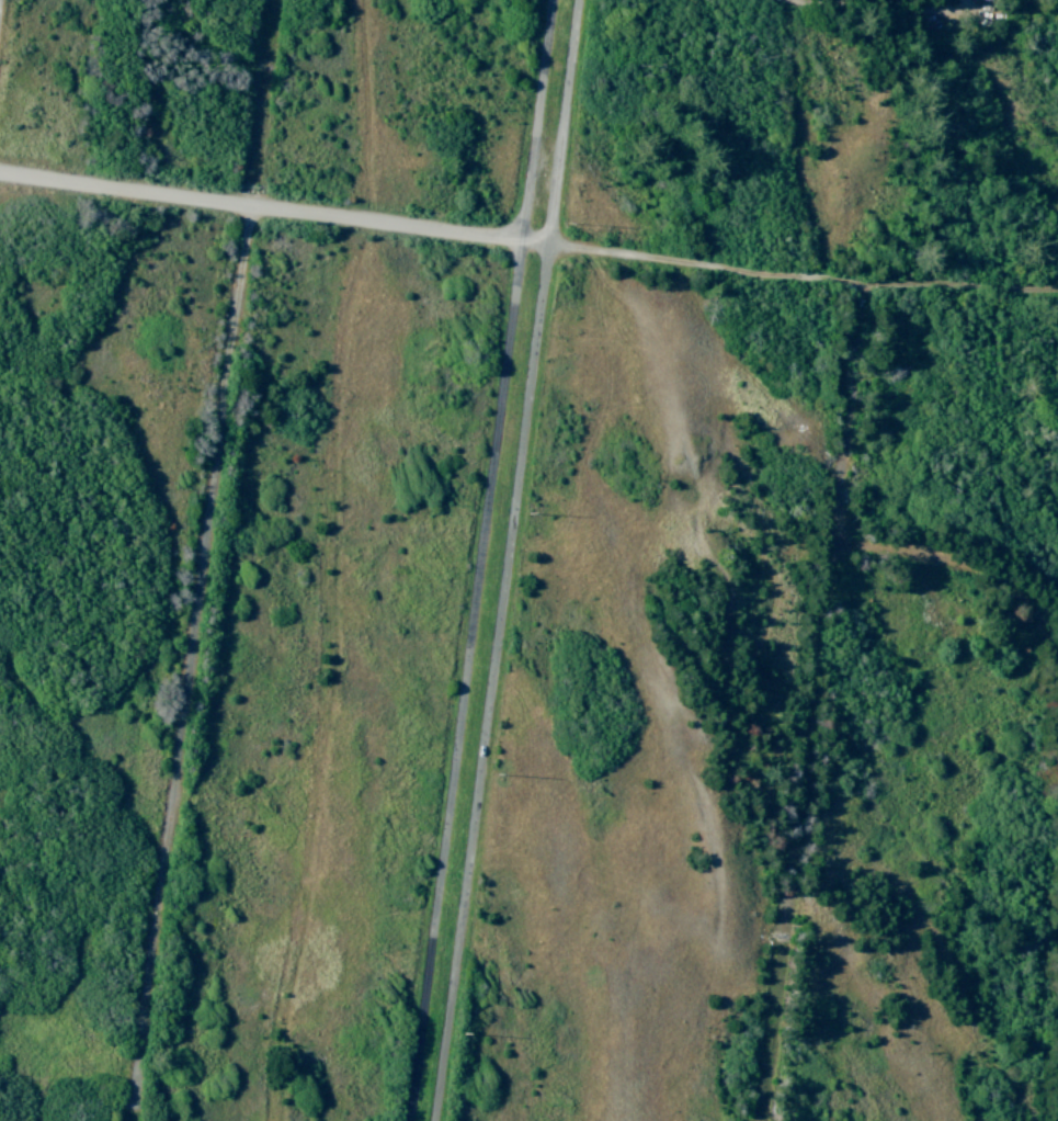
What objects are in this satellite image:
road: (924, 9)
road: (527, 242)
road: (205, 559)
road: (484, 559)
road: (511, 560)
road: (963, 565)
road: (814, 704)

